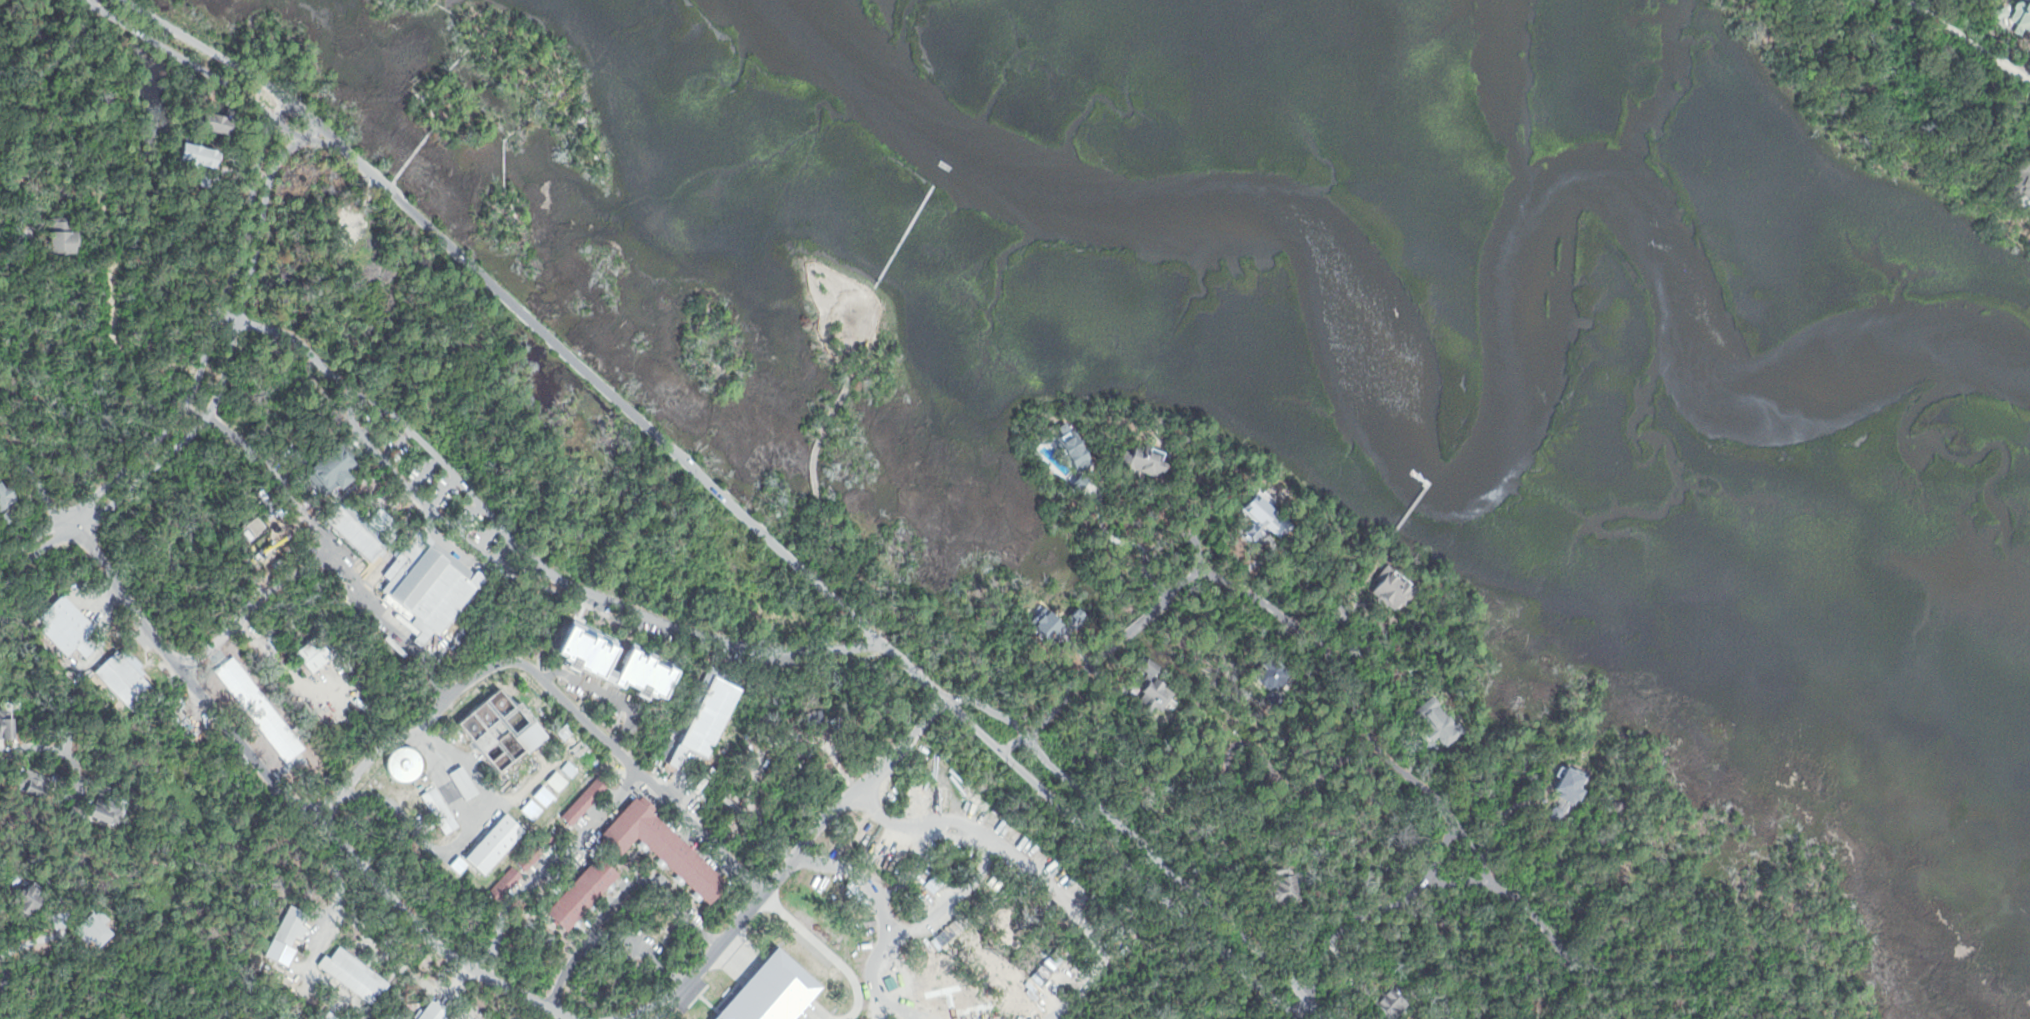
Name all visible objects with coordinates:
road: (394, 11)
building: (2013, 20)
road: (1965, 44)
road: (214, 51)
road: (63, 60)
road: (193, 64)
road: (450, 88)
building: (220, 122)
road: (506, 142)
building: (205, 153)
building: (2017, 184)
building: (58, 238)
building: (862, 312)
road: (216, 328)
road: (852, 336)
road: (232, 341)
road: (850, 376)
road: (621, 401)
road: (829, 418)
road: (372, 420)
road: (396, 443)
building: (1064, 449)
building: (1139, 464)
building: (337, 468)
road: (425, 472)
road: (814, 483)
road: (440, 491)
road: (417, 496)
building: (6, 500)
building: (256, 527)
building: (359, 530)
road: (58, 536)
road: (523, 550)
road: (19, 557)
road: (825, 558)
road: (25, 579)
building: (430, 585)
building: (1388, 589)
road: (365, 591)
road: (252, 605)
building: (69, 626)
road: (153, 632)
building: (315, 653)
building: (594, 659)
building: (1266, 673)
road: (1339, 676)
building: (129, 681)
building: (1146, 692)
road: (606, 694)
road: (988, 707)
building: (704, 718)
building: (8, 721)
building: (1428, 721)
building: (509, 729)
building: (576, 738)
road: (54, 746)
road: (616, 747)
road: (470, 762)
building: (406, 764)
storage tank: (406, 764)
road: (445, 778)
building: (39, 782)
building: (466, 782)
road: (1300, 784)
building: (1557, 794)
building: (976, 797)
building: (929, 798)
building: (588, 799)
building: (109, 808)
building: (74, 811)
building: (443, 811)
building: (497, 842)
road: (460, 843)
building: (537, 847)
building: (669, 849)
road: (1115, 857)
road: (548, 862)
road: (1030, 867)
road: (1479, 867)
road: (789, 868)
road: (377, 875)
road: (1178, 877)
building: (508, 882)
building: (1272, 888)
building: (588, 891)
building: (921, 895)
road: (1508, 895)
road: (620, 896)
building: (34, 900)
road: (949, 902)
building: (293, 925)
road: (885, 929)
building: (950, 931)
road: (373, 942)
road: (650, 943)
building: (355, 975)
road: (763, 989)
road: (1270, 998)
building: (1388, 1000)
road: (1693, 1006)
building: (437, 1010)
building: (333, 1015)

